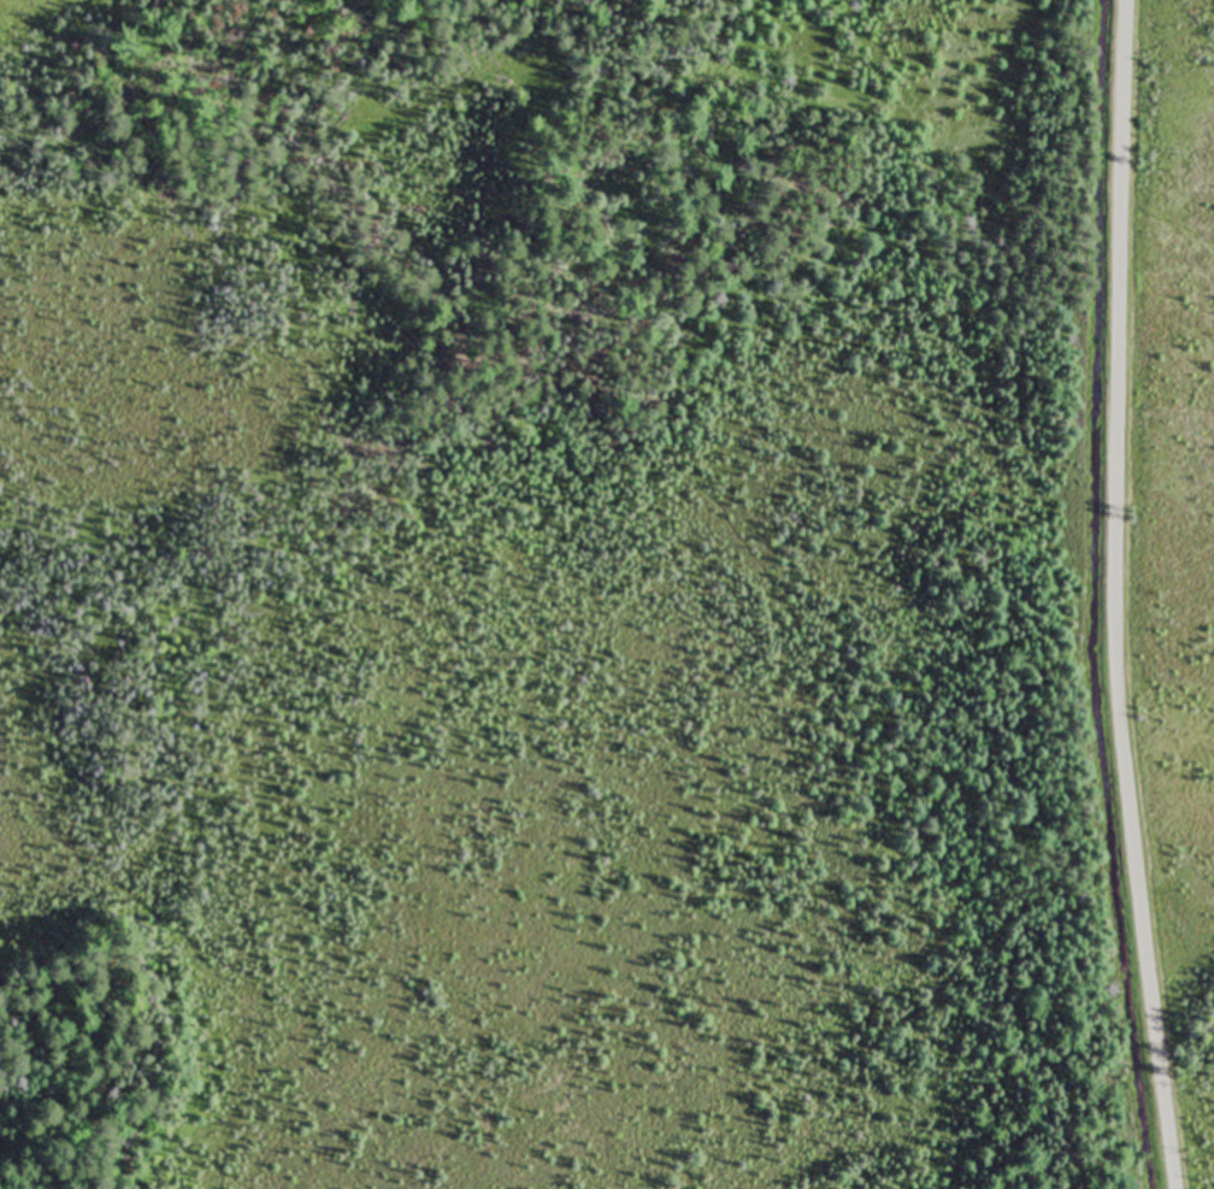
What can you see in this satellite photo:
road: (1115, 595)

